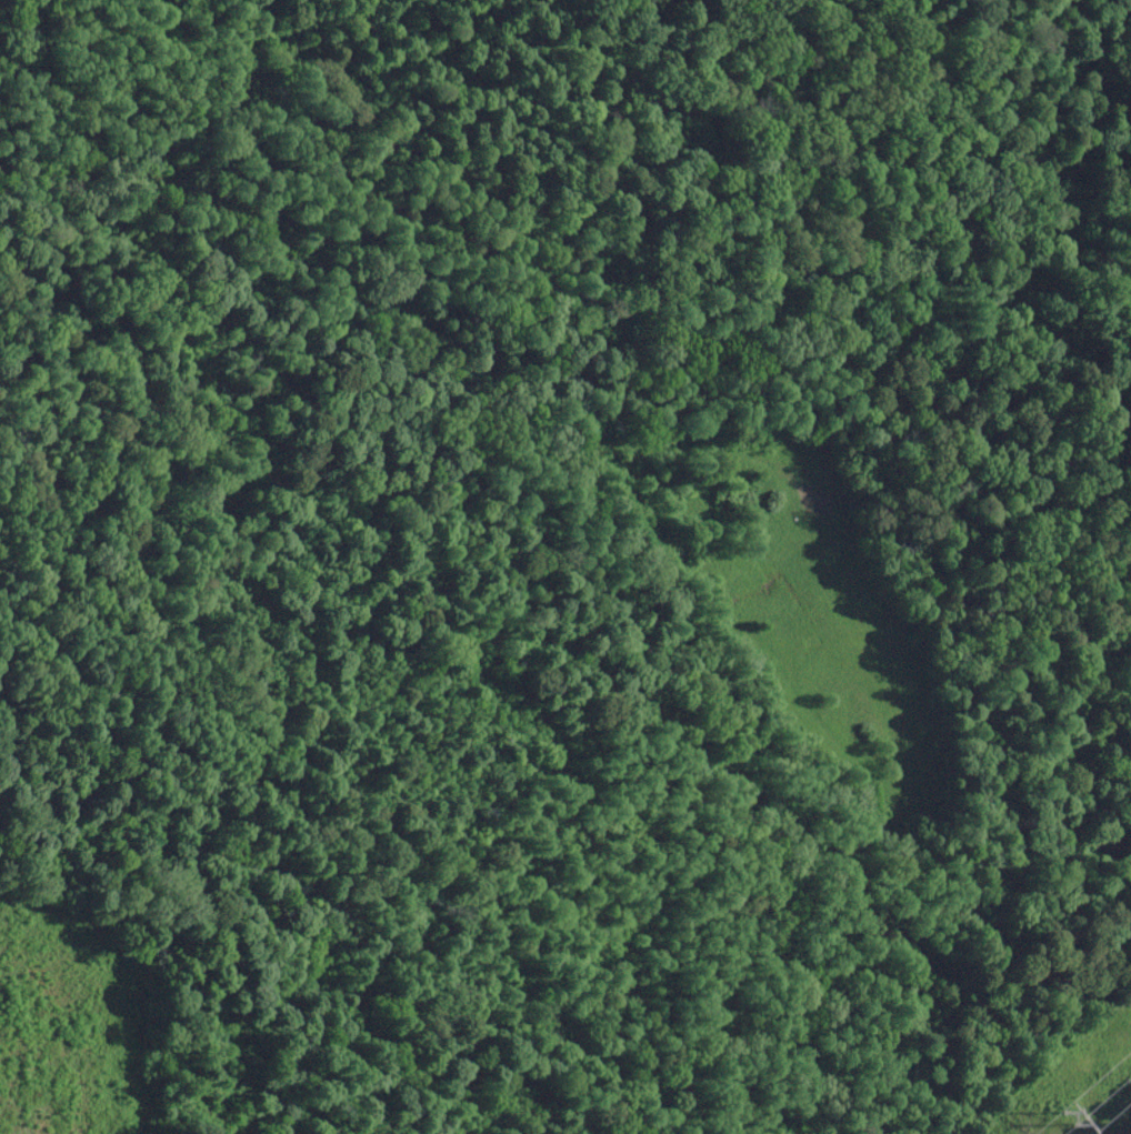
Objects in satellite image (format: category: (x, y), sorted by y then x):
power tower: (1071, 1117)

